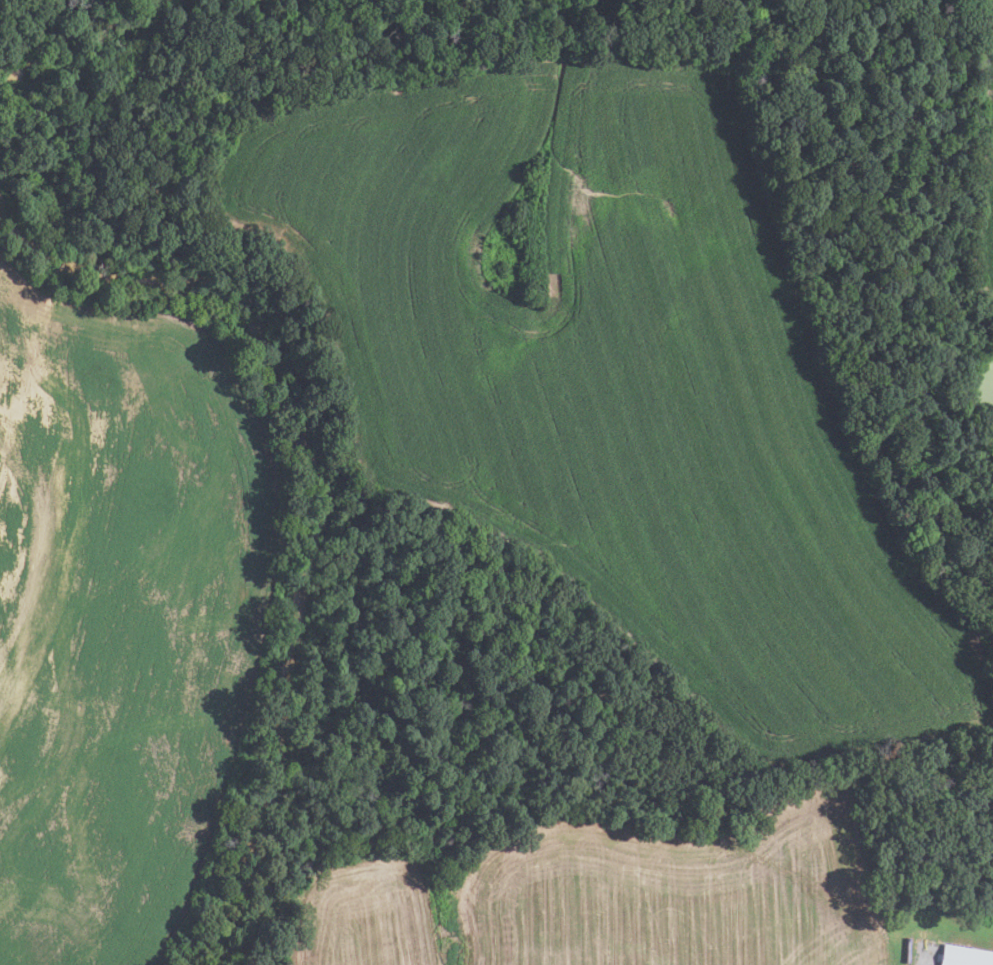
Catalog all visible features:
crop: (983, 160)
crop: (621, 382)
crop: (677, 891)
crop: (374, 912)
building: (964, 956)

